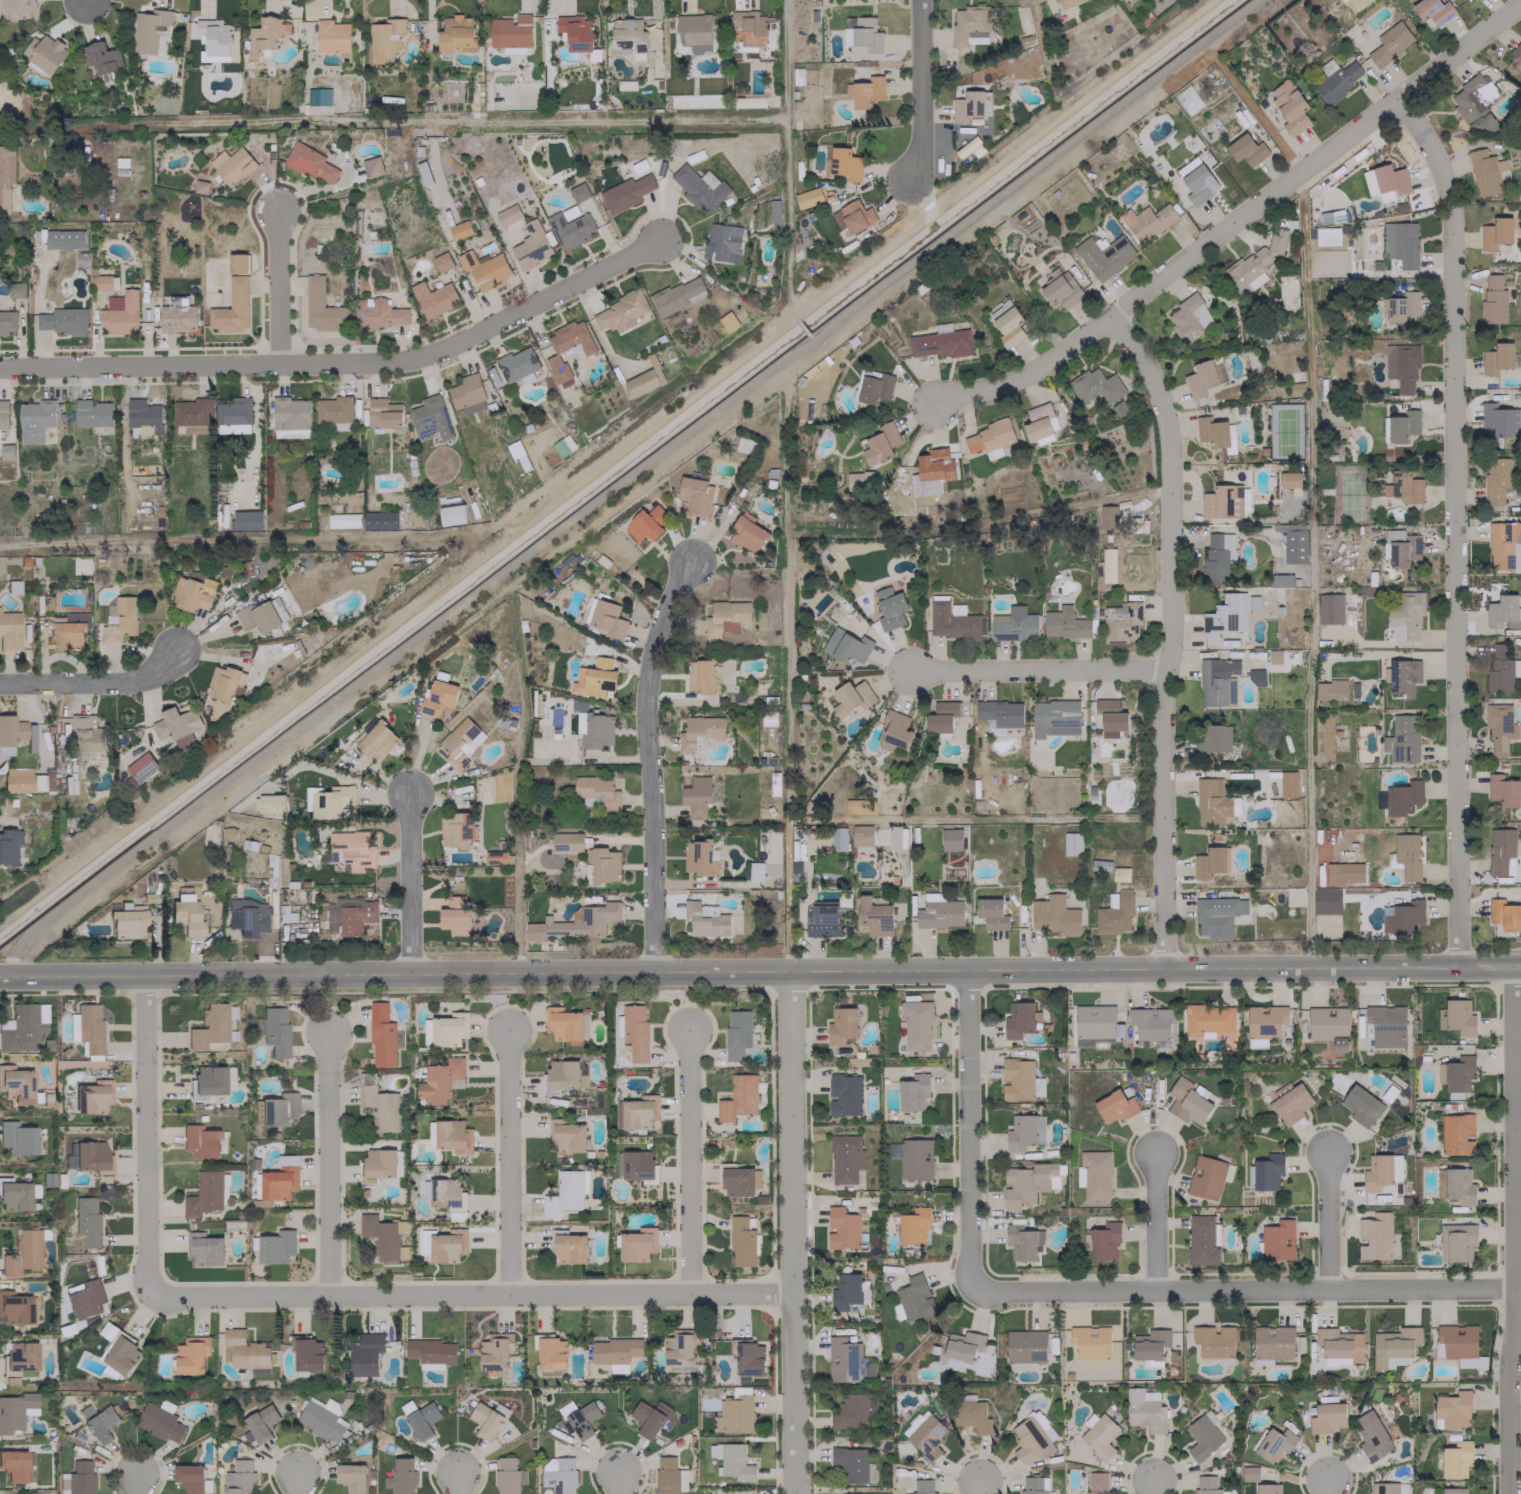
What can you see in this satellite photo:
building: (1474, 0)
building: (1067, 3)
building: (16, 9)
building: (1433, 11)
building: (969, 25)
building: (747, 27)
building: (694, 28)
building: (150, 31)
building: (575, 32)
building: (861, 33)
building: (456, 34)
building: (628, 35)
building: (263, 36)
building: (332, 36)
building: (213, 39)
building: (384, 39)
building: (1389, 43)
building: (1516, 51)
building: (45, 52)
building: (101, 57)
building: (1336, 79)
building: (865, 91)
road: (920, 93)
building: (744, 101)
building: (1474, 103)
building: (967, 106)
building: (1289, 106)
building: (1246, 150)
building: (310, 163)
building: (843, 163)
building: (231, 165)
building: (1486, 172)
building: (6, 176)
building: (1196, 180)
building: (1384, 180)
building: (699, 187)
building: (578, 192)
building: (625, 192)
building: (807, 197)
building: (569, 212)
building: (507, 214)
building: (856, 216)
building: (1331, 216)
road: (1234, 219)
building: (1147, 221)
building: (459, 229)
building: (569, 229)
building: (1495, 233)
building: (1327, 237)
building: (64, 239)
building: (722, 242)
building: (1400, 243)
building: (530, 246)
building: (1103, 255)
building: (441, 261)
building: (237, 263)
building: (1254, 264)
building: (484, 268)
building: (102, 282)
road: (279, 286)
building: (1061, 289)
building: (16, 290)
building: (676, 296)
building: (434, 298)
building: (1492, 300)
building: (320, 306)
building: (1401, 306)
building: (231, 307)
building: (619, 312)
building: (119, 313)
building: (379, 313)
building: (177, 314)
building: (1189, 318)
building: (62, 320)
building: (728, 321)
building: (7, 322)
building: (1006, 322)
building: (938, 343)
building: (567, 349)
building: (1497, 357)
road: (343, 362)
building: (517, 365)
building: (1401, 368)
building: (1203, 377)
building: (874, 388)
building: (1099, 390)
building: (467, 394)
building: (332, 409)
building: (233, 411)
building: (191, 412)
building: (92, 413)
building: (383, 413)
building: (3, 414)
building: (143, 415)
building: (289, 417)
building: (430, 417)
building: (1496, 418)
building: (35, 420)
building: (1402, 425)
building: (1211, 431)
building: (990, 437)
building: (880, 443)
building: (563, 445)
building: (6, 451)
building: (934, 465)
building: (1288, 479)
road: (624, 481)
building: (1496, 482)
building: (1406, 487)
building: (693, 495)
building: (1220, 502)
building: (414, 512)
building: (451, 514)
building: (1107, 516)
building: (246, 520)
building: (343, 520)
building: (379, 520)
building: (646, 523)
road: (1453, 526)
building: (747, 533)
building: (1293, 541)
building: (1504, 545)
building: (1401, 547)
building: (1217, 555)
building: (1108, 565)
building: (1281, 580)
building: (193, 591)
building: (889, 608)
building: (1329, 608)
building: (1502, 612)
building: (257, 614)
building: (1225, 615)
building: (1406, 616)
building: (723, 617)
building: (607, 618)
building: (951, 620)
building: (1122, 622)
building: (1064, 623)
building: (9, 631)
building: (68, 631)
road: (1171, 634)
building: (845, 645)
building: (1274, 656)
building: (723, 668)
road: (1038, 668)
building: (1501, 668)
building: (699, 675)
building: (1402, 676)
building: (599, 677)
building: (1256, 677)
road: (91, 681)
building: (1217, 682)
building: (222, 683)
building: (1352, 688)
building: (1330, 689)
building: (437, 697)
building: (851, 697)
building: (998, 715)
building: (1110, 716)
building: (940, 717)
building: (1054, 717)
building: (177, 726)
building: (1499, 729)
building: (596, 730)
building: (893, 731)
building: (699, 732)
building: (14, 733)
building: (87, 736)
building: (1212, 738)
building: (1402, 739)
building: (377, 740)
building: (460, 742)
road: (649, 760)
building: (141, 766)
building: (22, 780)
building: (1287, 784)
building: (1502, 790)
building: (596, 791)
building: (696, 795)
building: (1402, 797)
building: (327, 800)
building: (1212, 802)
building: (271, 803)
building: (455, 830)
building: (861, 835)
building: (838, 838)
building: (951, 839)
building: (566, 842)
building: (1071, 843)
building: (7, 846)
building: (351, 849)
building: (1501, 851)
building: (1407, 855)
building: (495, 857)
building: (697, 857)
building: (1209, 862)
building: (601, 864)
building: (755, 871)
building: (1333, 873)
building: (1120, 874)
road: (407, 881)
building: (1326, 900)
building: (186, 912)
building: (1114, 912)
building: (991, 913)
building: (939, 914)
building: (1503, 914)
building: (1054, 915)
building: (874, 916)
building: (1217, 916)
building: (1403, 916)
building: (355, 917)
building: (247, 918)
building: (455, 919)
building: (705, 919)
building: (823, 919)
building: (127, 921)
building: (575, 922)
road: (760, 970)
building: (1459, 1017)
building: (1018, 1018)
building: (1208, 1019)
building: (1265, 1021)
building: (562, 1023)
building: (1150, 1023)
building: (915, 1024)
building: (210, 1025)
building: (841, 1025)
building: (1386, 1025)
building: (24, 1027)
building: (89, 1027)
building: (1328, 1027)
building: (445, 1029)
building: (274, 1030)
building: (634, 1031)
building: (736, 1034)
building: (382, 1036)
building: (1257, 1043)
building: (562, 1074)
building: (440, 1080)
building: (1019, 1080)
building: (206, 1082)
building: (16, 1085)
building: (912, 1092)
building: (843, 1094)
building: (93, 1096)
building: (738, 1098)
building: (1187, 1102)
building: (1288, 1102)
building: (378, 1104)
building: (1360, 1105)
building: (1114, 1106)
building: (275, 1109)
building: (617, 1112)
road: (968, 1129)
road: (144, 1132)
building: (1020, 1132)
building: (1456, 1134)
building: (566, 1135)
building: (17, 1138)
building: (200, 1141)
building: (893, 1150)
building: (91, 1156)
building: (845, 1158)
building: (915, 1159)
road: (507, 1162)
road: (688, 1162)
road: (326, 1163)
building: (378, 1164)
building: (637, 1165)
building: (1267, 1172)
building: (1377, 1172)
building: (1095, 1174)
building: (1207, 1176)
building: (279, 1180)
building: (737, 1181)
building: (1024, 1184)
building: (1459, 1186)
building: (565, 1193)
building: (204, 1194)
building: (14, 1195)
building: (447, 1197)
road: (1325, 1219)
building: (87, 1220)
road: (1153, 1221)
building: (914, 1226)
building: (842, 1228)
road: (1512, 1230)
road: (791, 1231)
building: (380, 1237)
building: (1374, 1237)
building: (1103, 1240)
building: (1202, 1240)
building: (1277, 1240)
building: (743, 1241)
building: (1456, 1241)
building: (1020, 1242)
building: (636, 1245)
building: (276, 1246)
building: (447, 1246)
building: (569, 1248)
building: (204, 1249)
building: (22, 1252)
road: (1243, 1289)
building: (845, 1292)
road: (471, 1295)
building: (914, 1298)
building: (85, 1299)
building: (14, 1308)
building: (1090, 1341)
building: (1213, 1341)
building: (1272, 1342)
building: (1149, 1344)
building: (1458, 1345)
building: (1339, 1346)
building: (1393, 1347)
building: (1025, 1348)
building: (679, 1349)
building: (961, 1349)
building: (244, 1350)
building: (431, 1351)
building: (495, 1353)
building: (551, 1353)
building: (616, 1353)
building: (307, 1354)
building: (365, 1354)
building: (122, 1355)
building: (191, 1355)
building: (19, 1357)
building: (749, 1358)
building: (846, 1360)
building: (431, 1366)
building: (566, 1408)
building: (1452, 1409)
building: (15, 1410)
building: (1144, 1410)
building: (852, 1411)
building: (734, 1415)
building: (971, 1416)
building: (652, 1418)
building: (1326, 1418)
building: (321, 1419)
building: (422, 1419)
building: (583, 1420)
building: (485, 1421)
building: (98, 1422)
building: (159, 1422)
building: (260, 1422)
building: (1043, 1424)
building: (924, 1434)
building: (1099, 1436)
building: (1202, 1436)
building: (1372, 1436)
building: (1031, 1440)
building: (1275, 1444)
building: (1455, 1459)
building: (731, 1461)
building: (13, 1465)
building: (853, 1465)
building: (558, 1474)
building: (668, 1475)
building: (400, 1476)
building: (508, 1476)
building: (351, 1477)
building: (79, 1478)
building: (238, 1478)
road: (454, 1482)
road: (617, 1482)
building: (1096, 1482)
road: (295, 1484)
road: (135, 1485)
building: (1034, 1485)
building: (1206, 1485)
road: (1324, 1485)
building: (922, 1486)
road: (1149, 1486)
road: (976, 1487)
building: (1267, 1488)
building: (1388, 1488)
building: (1453, 1490)
building: (861, 1493)

